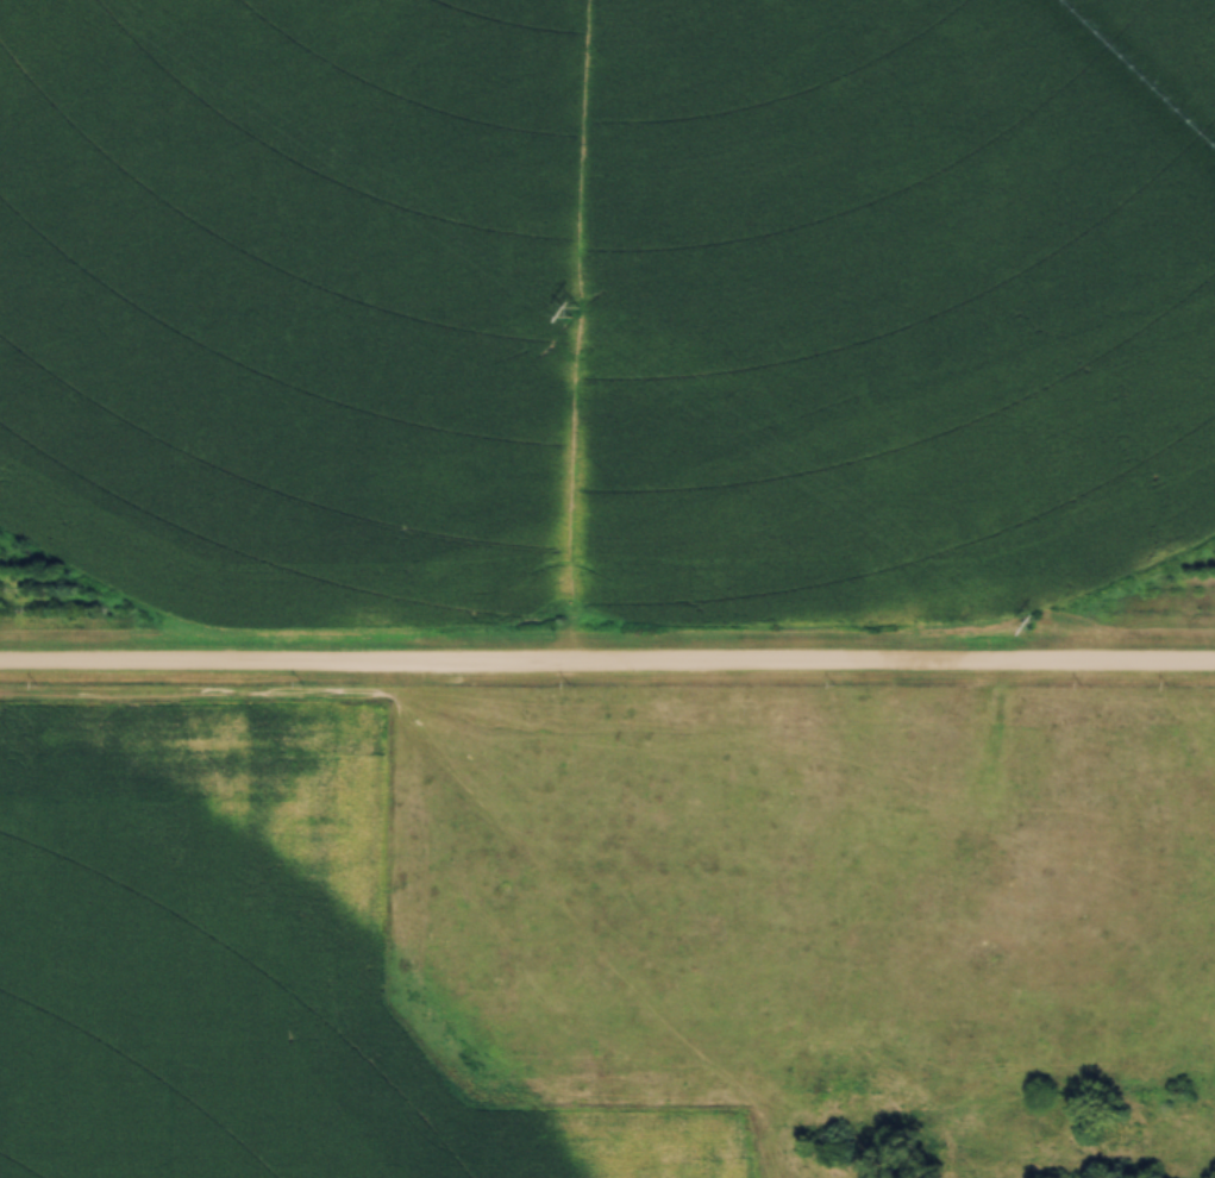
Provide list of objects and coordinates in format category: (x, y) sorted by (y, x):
power tower: (577, 313)
power tower: (1028, 624)
road: (607, 662)

